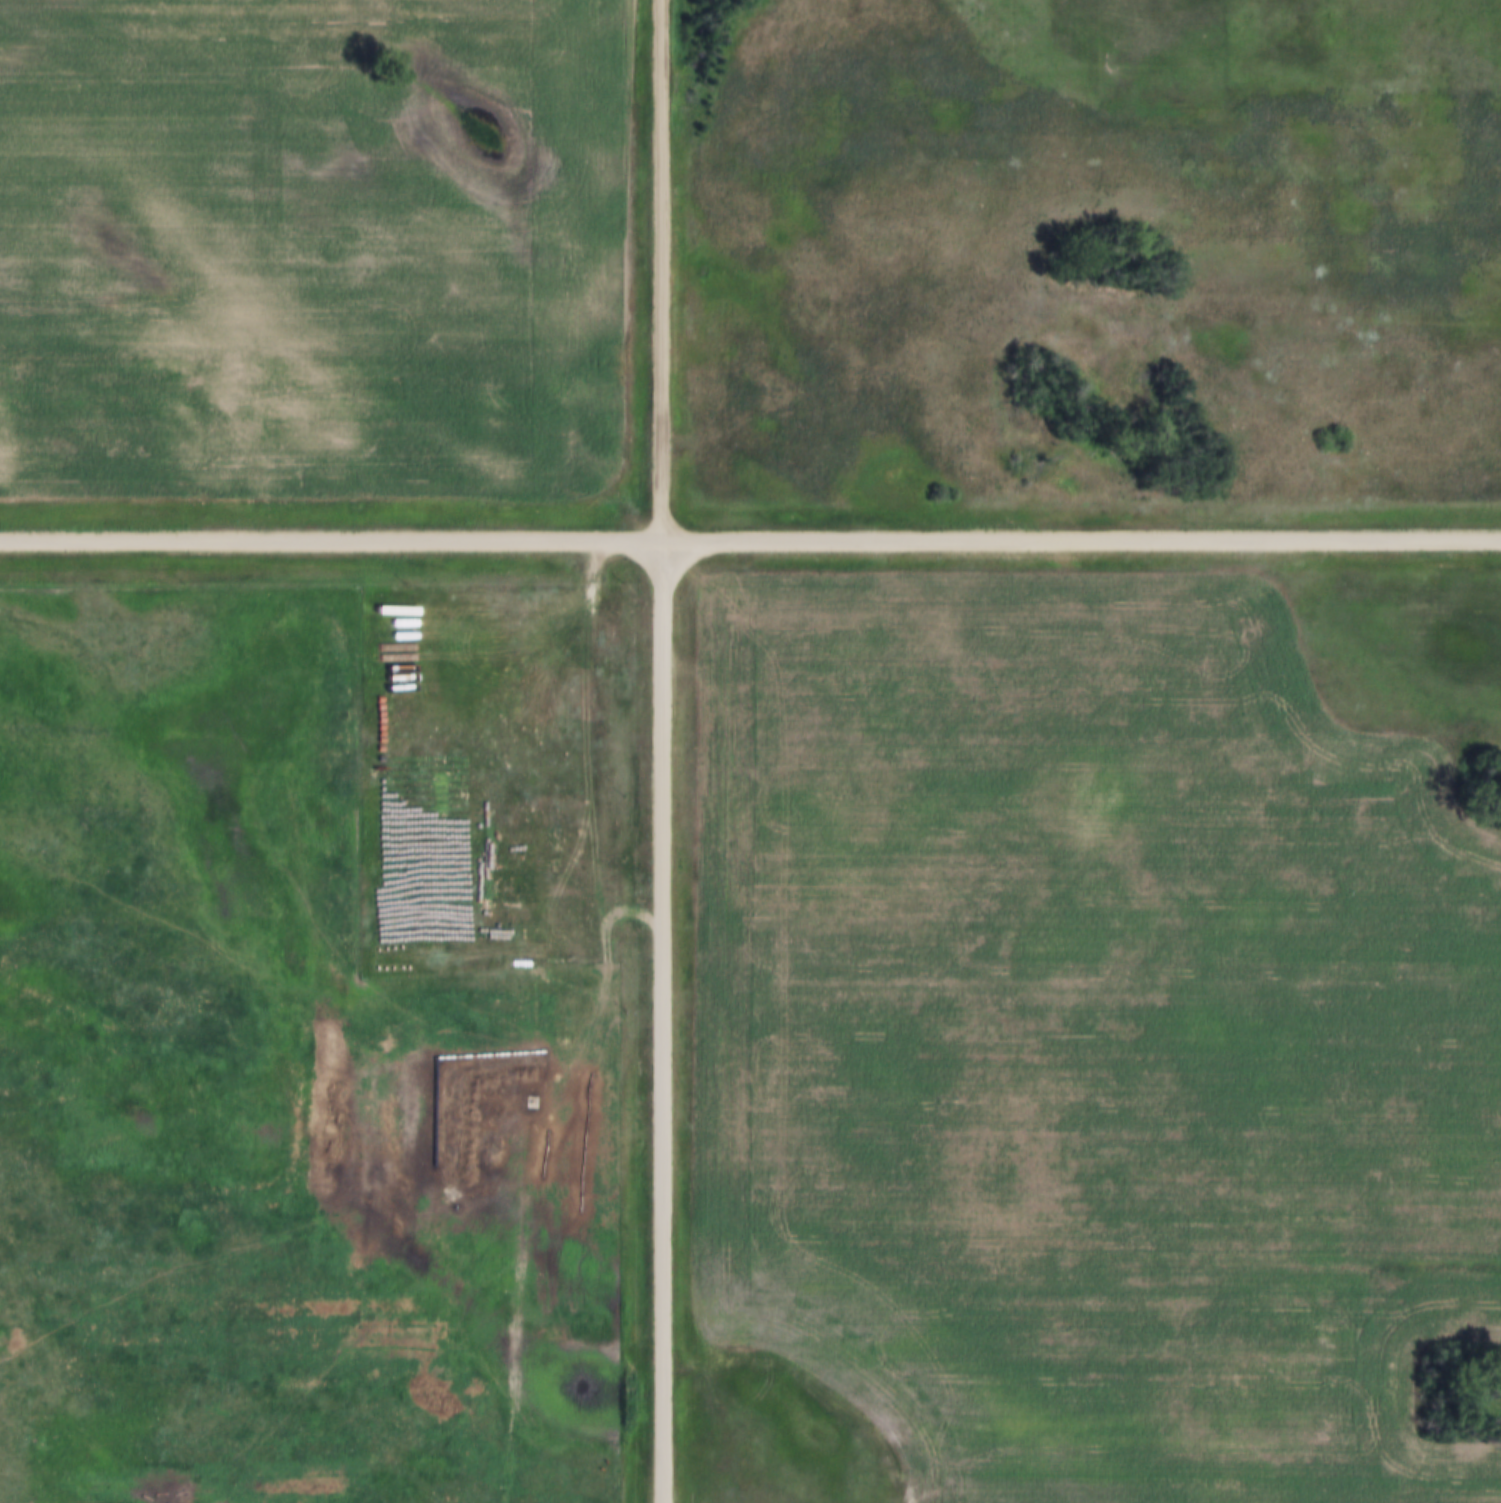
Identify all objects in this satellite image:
road: (661, 270)
building: (593, 299)
road: (750, 539)
road: (664, 1021)

